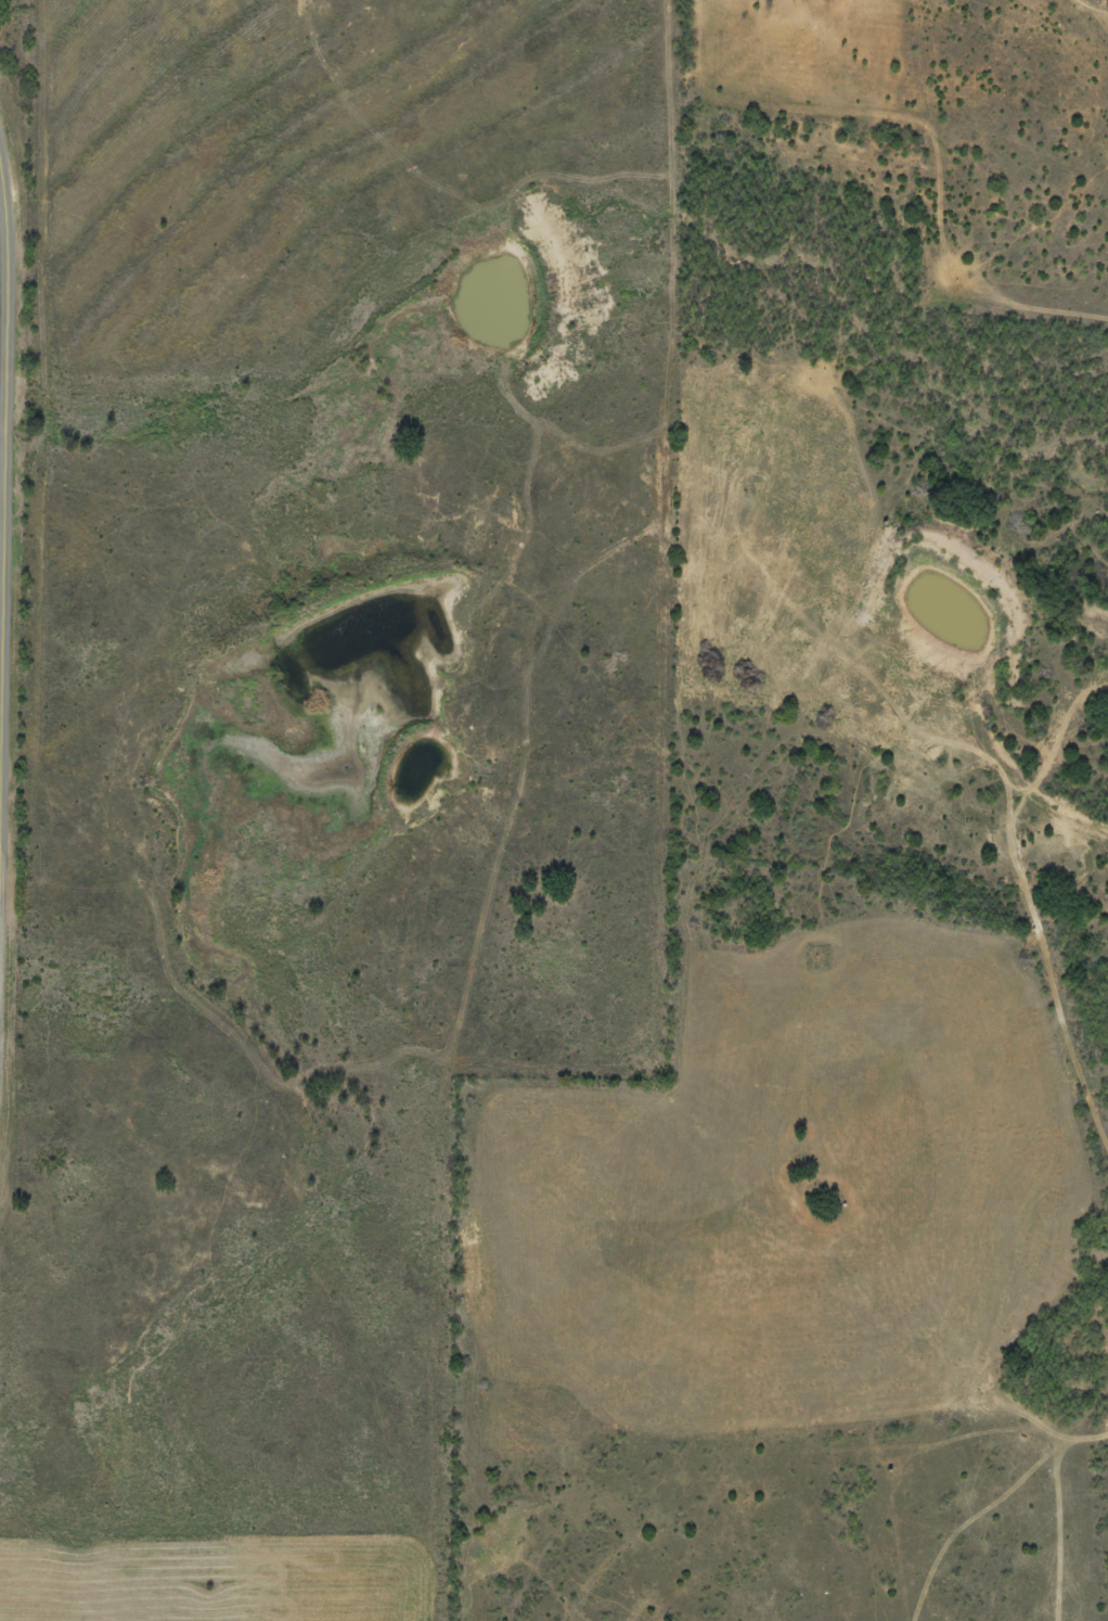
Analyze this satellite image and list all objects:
road: (4, 515)

